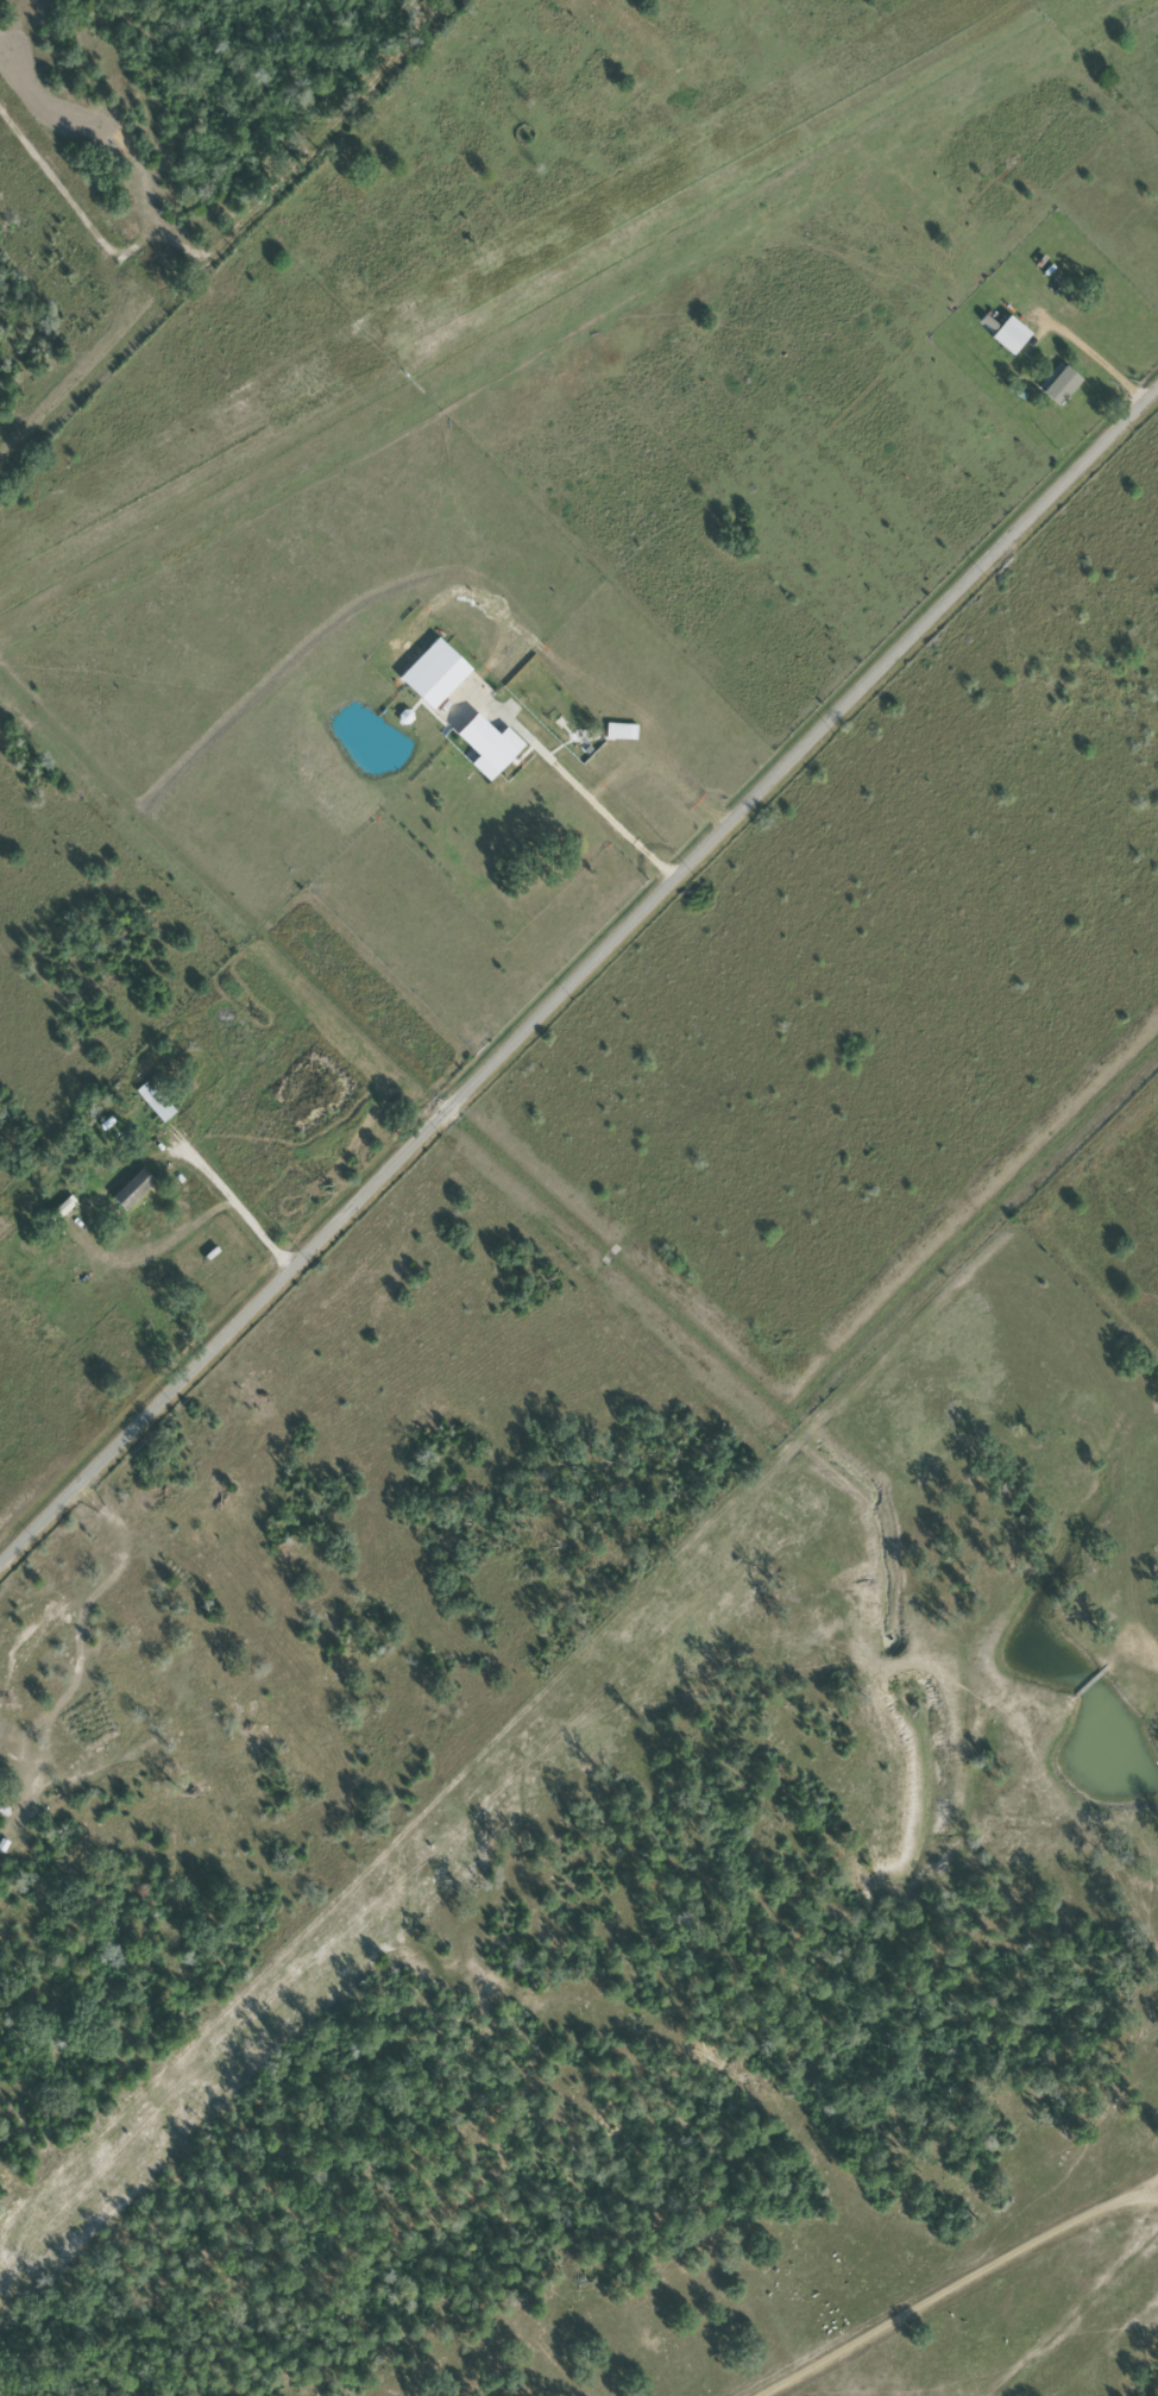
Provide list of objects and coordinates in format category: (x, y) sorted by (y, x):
road: (952, 126)
building: (1005, 333)
building: (479, 741)
road: (579, 971)
building: (155, 1106)
building: (126, 1188)

